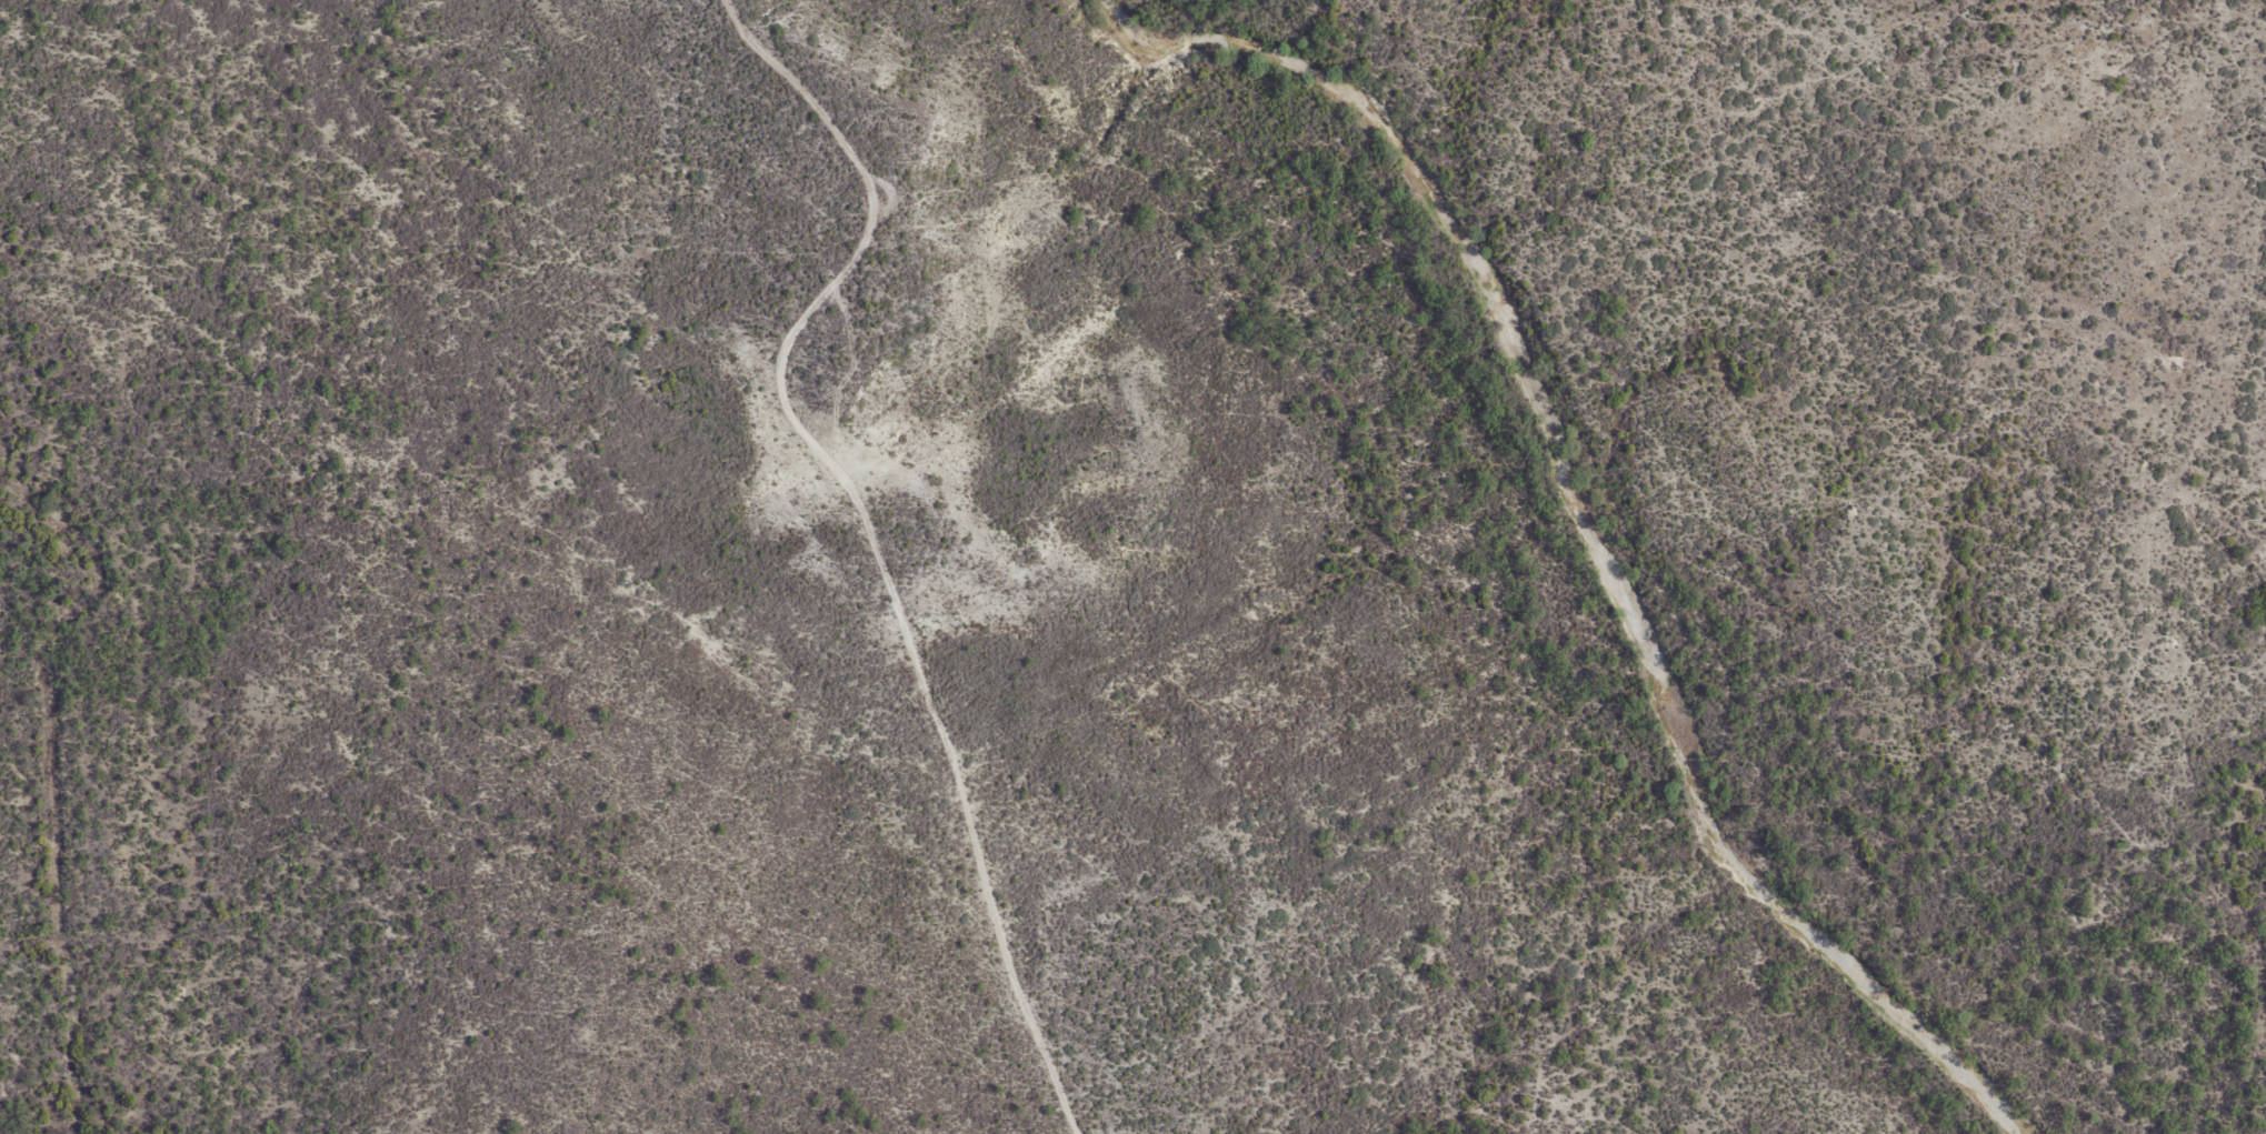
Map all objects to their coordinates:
road: (878, 568)

